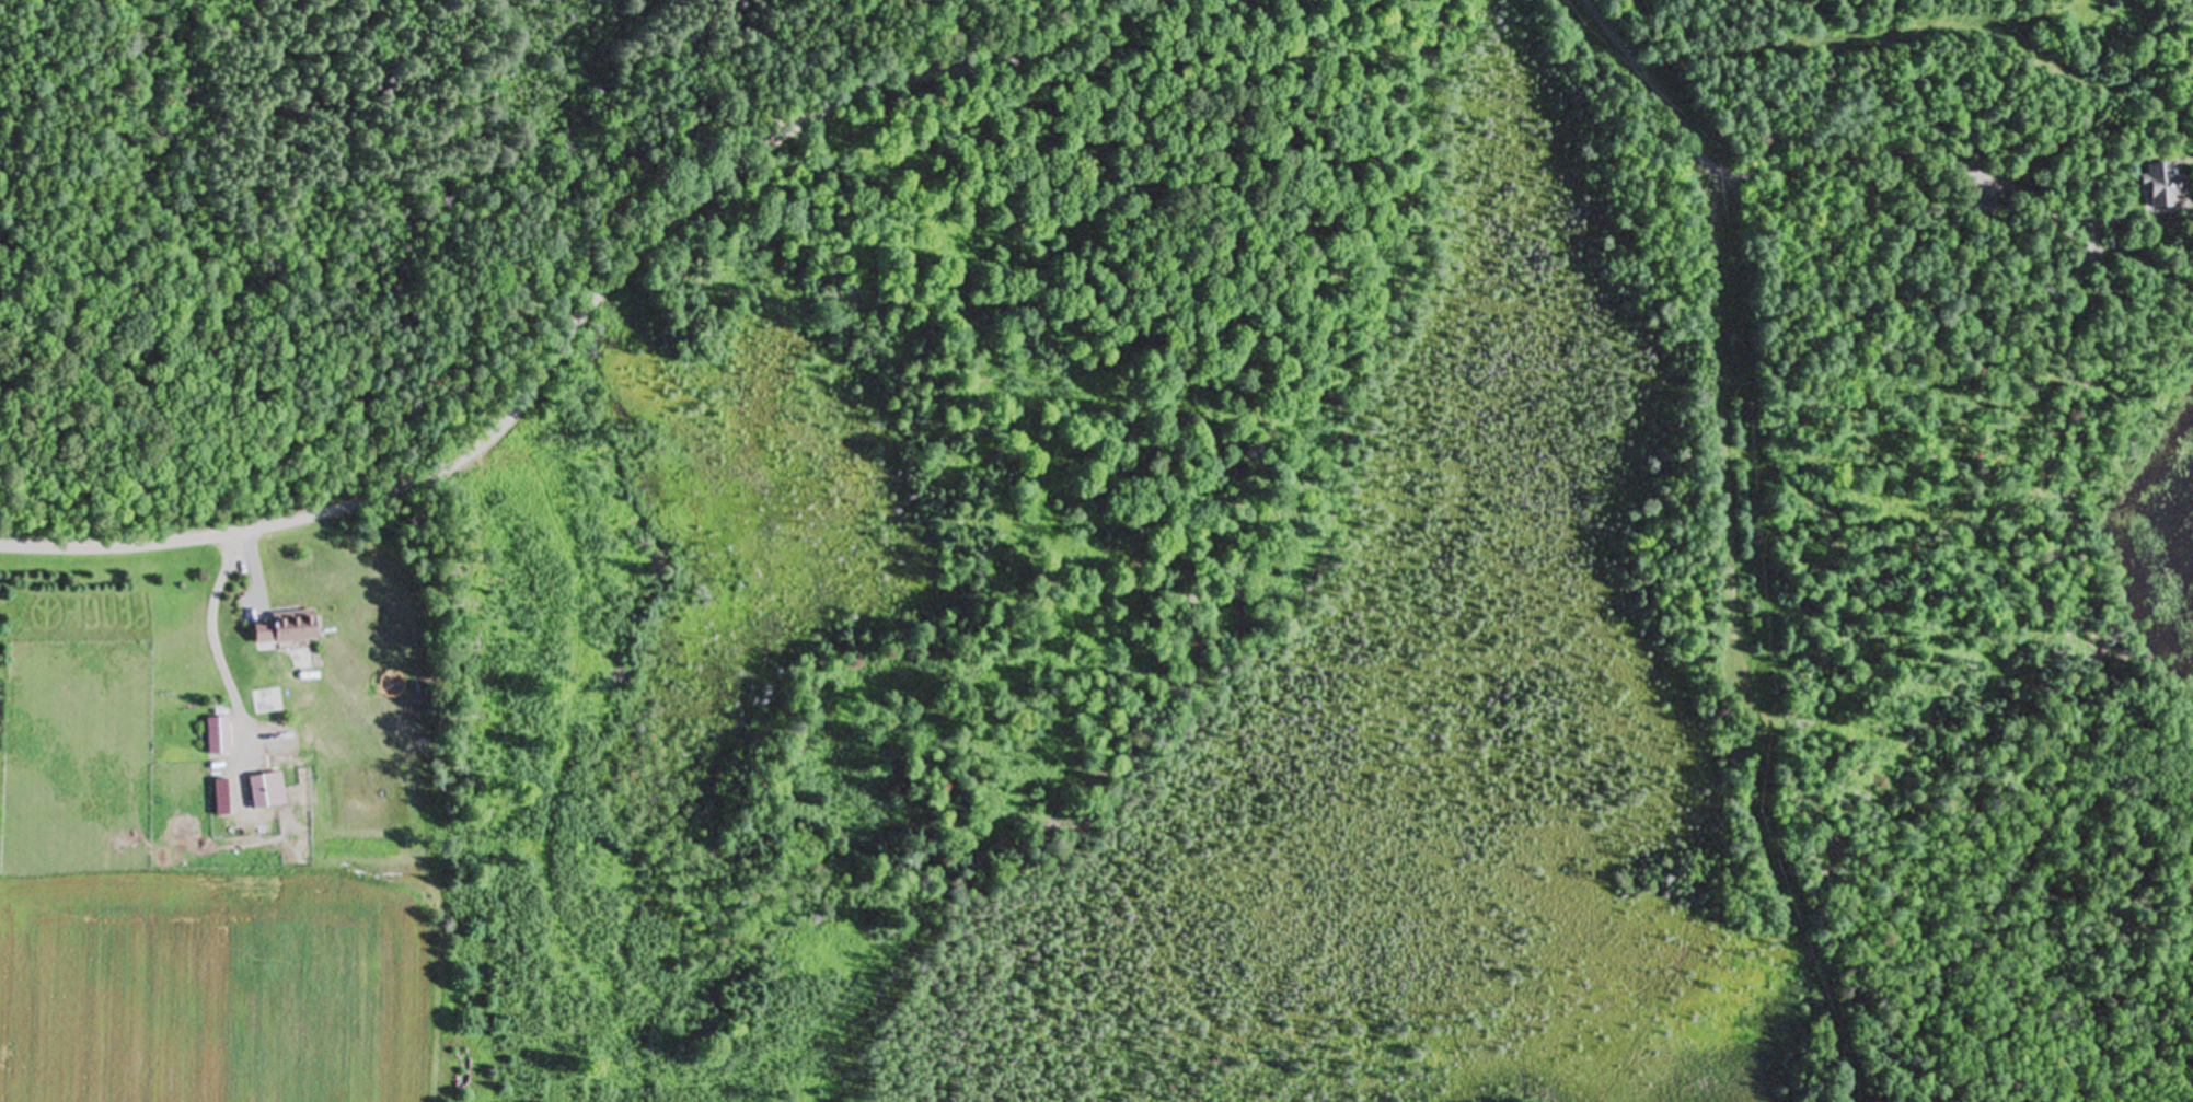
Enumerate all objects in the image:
building: (2158, 187)
building: (1976, 204)
road: (586, 311)
road: (1722, 430)
building: (289, 627)
building: (218, 734)
building: (268, 789)

